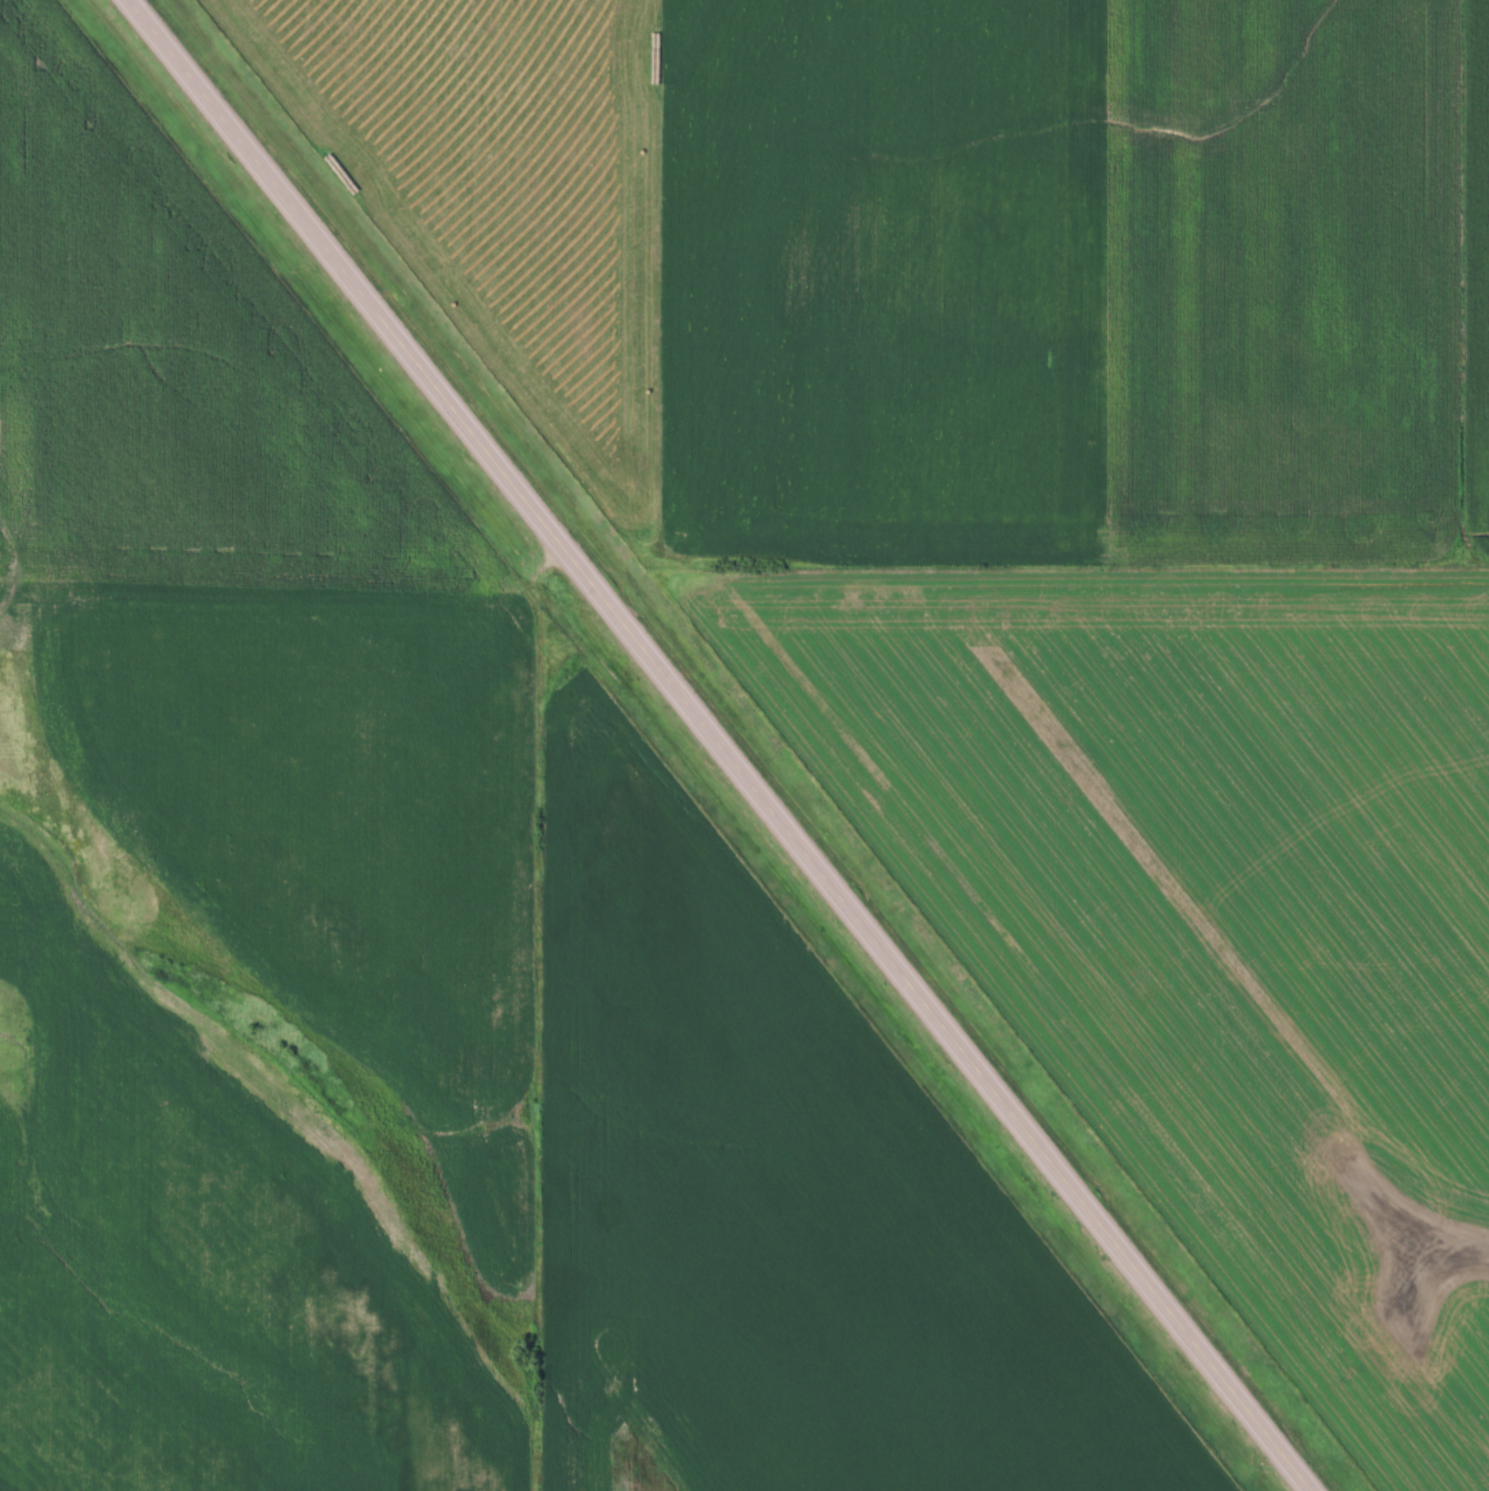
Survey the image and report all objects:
road: (720, 745)

